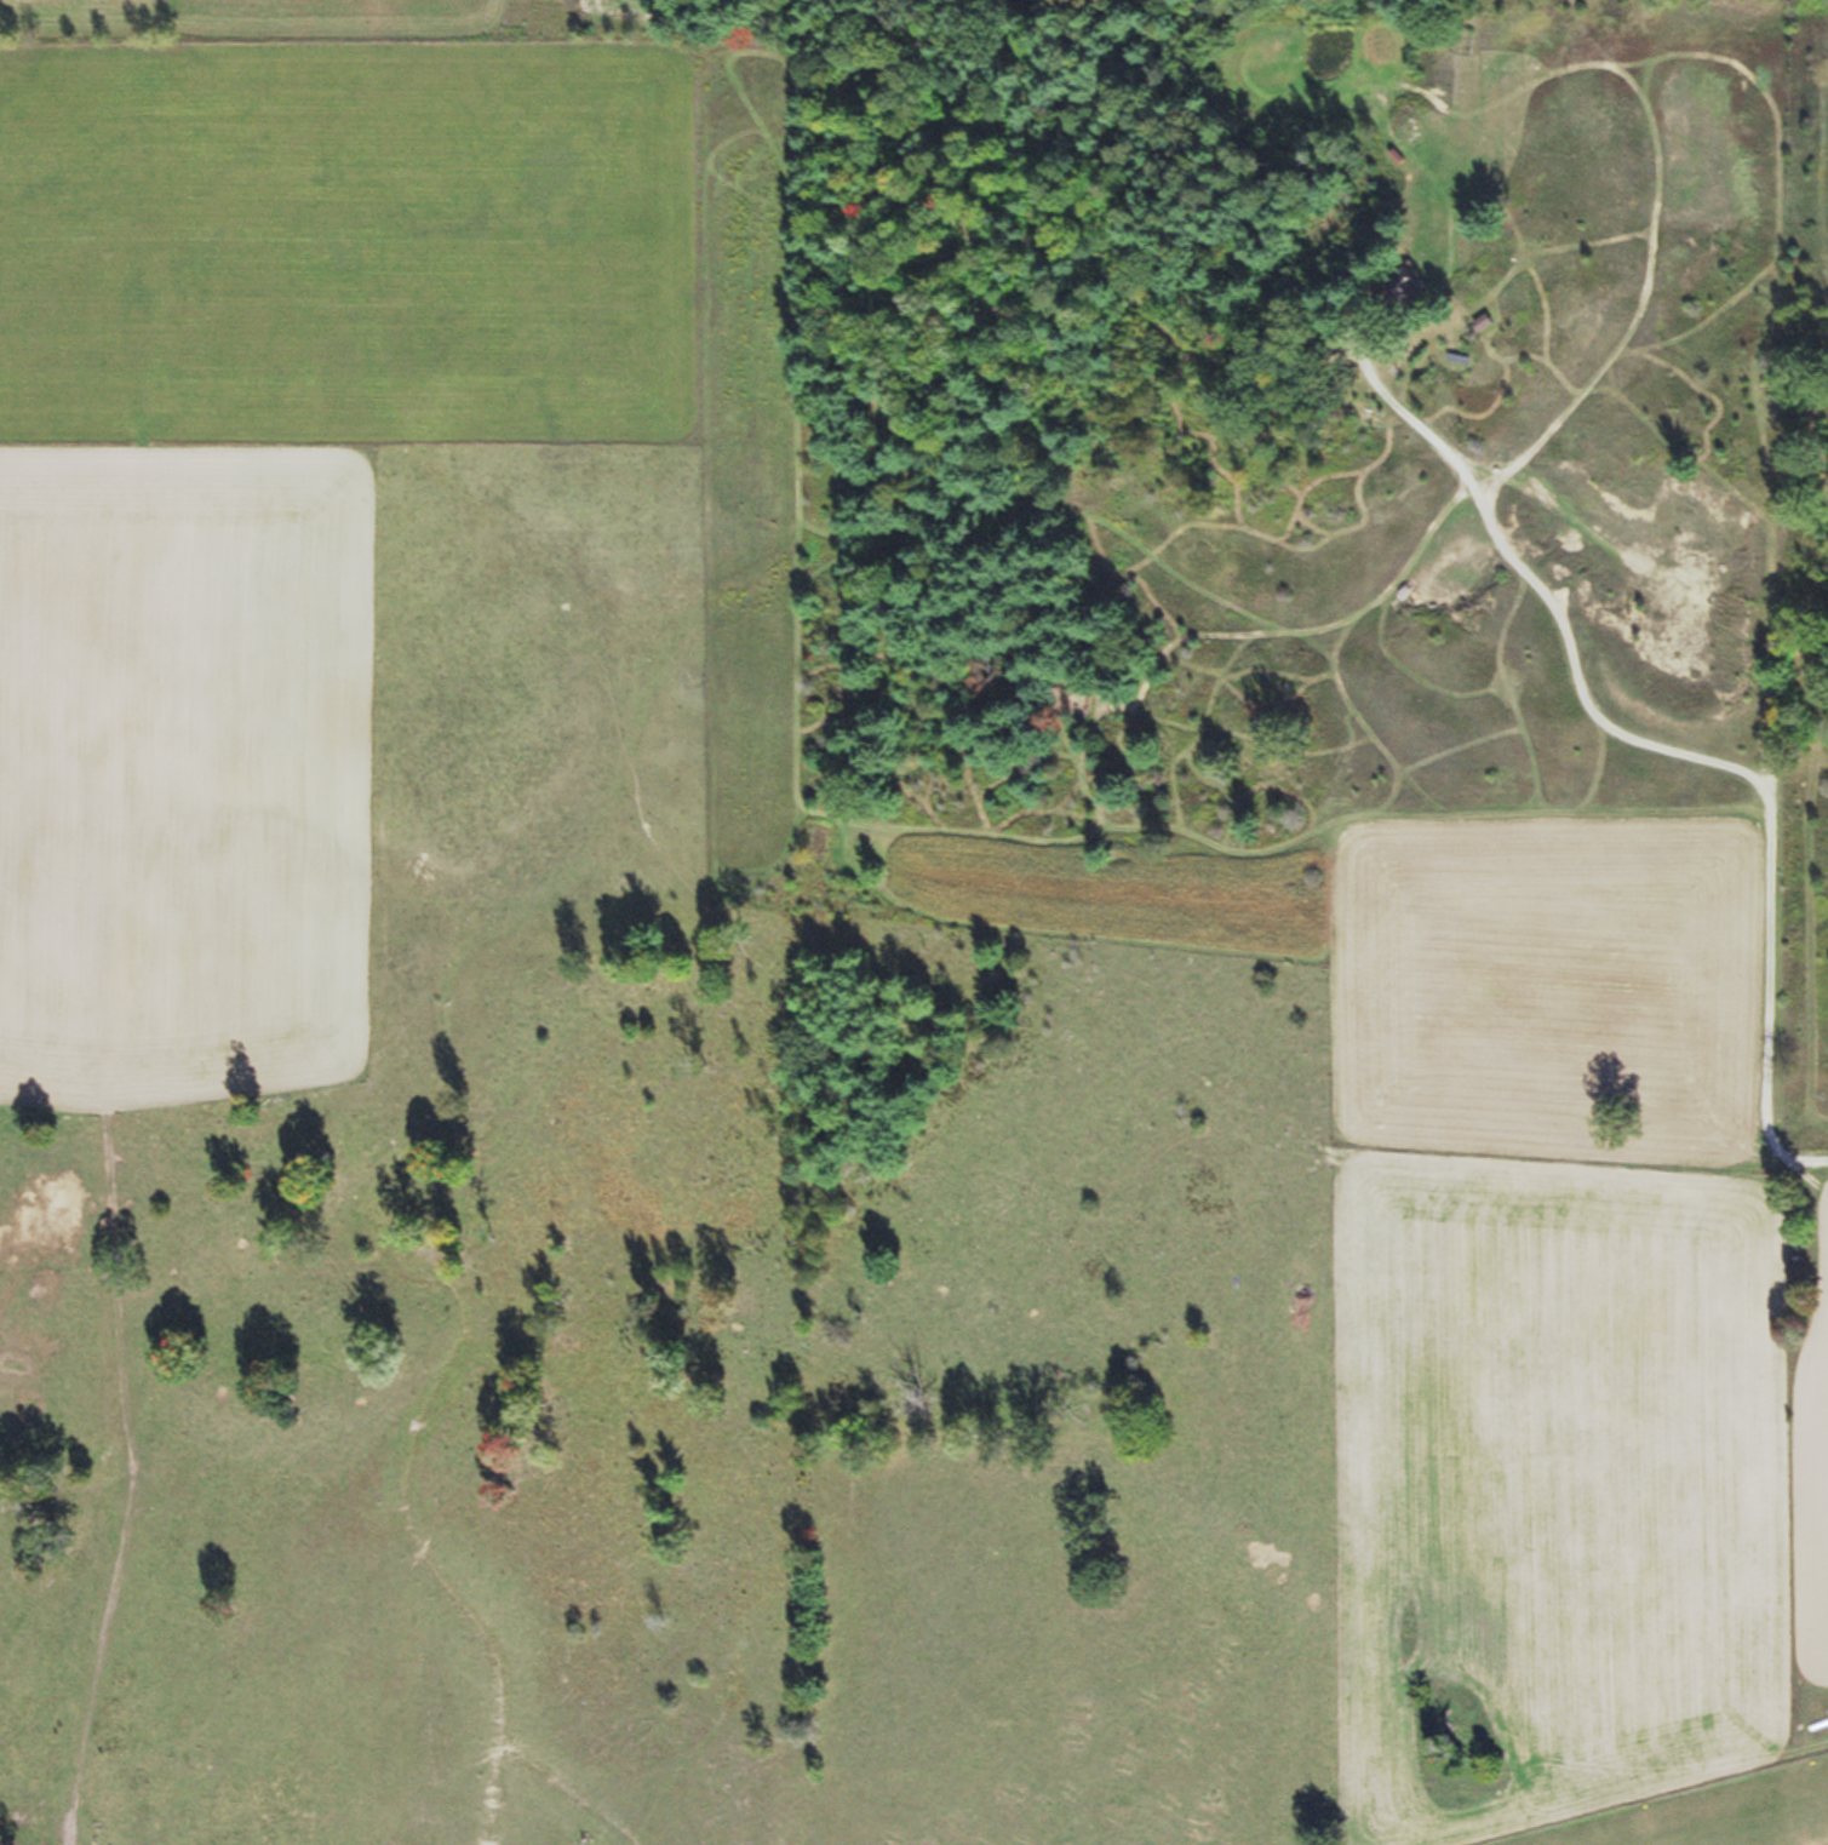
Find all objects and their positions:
building: (1399, 282)
airport runway: (1744, 1823)

